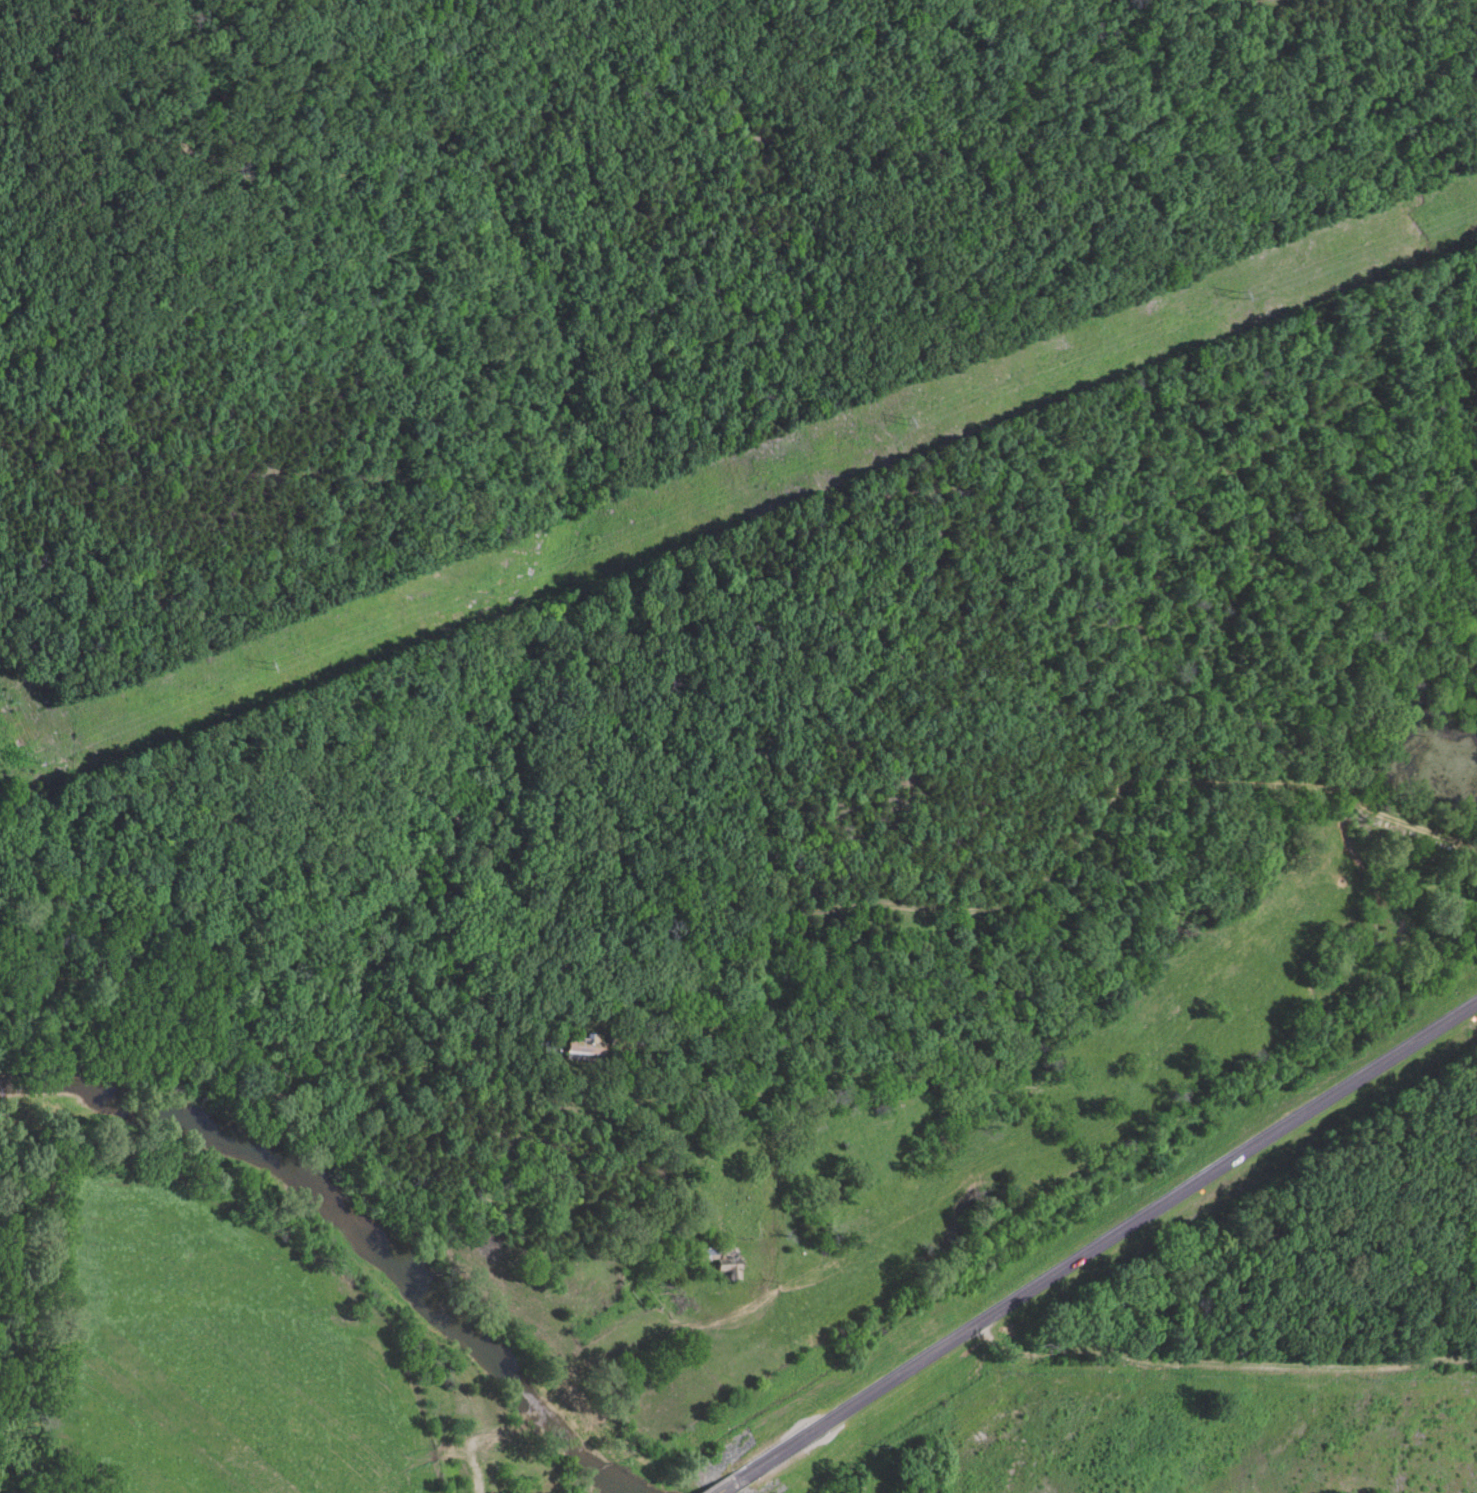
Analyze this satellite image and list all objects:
power tower: (1241, 295)
power tower: (905, 424)
power tower: (273, 662)
power tower: (26, 758)
road: (1063, 866)
road: (1095, 1251)
road: (863, 1272)

